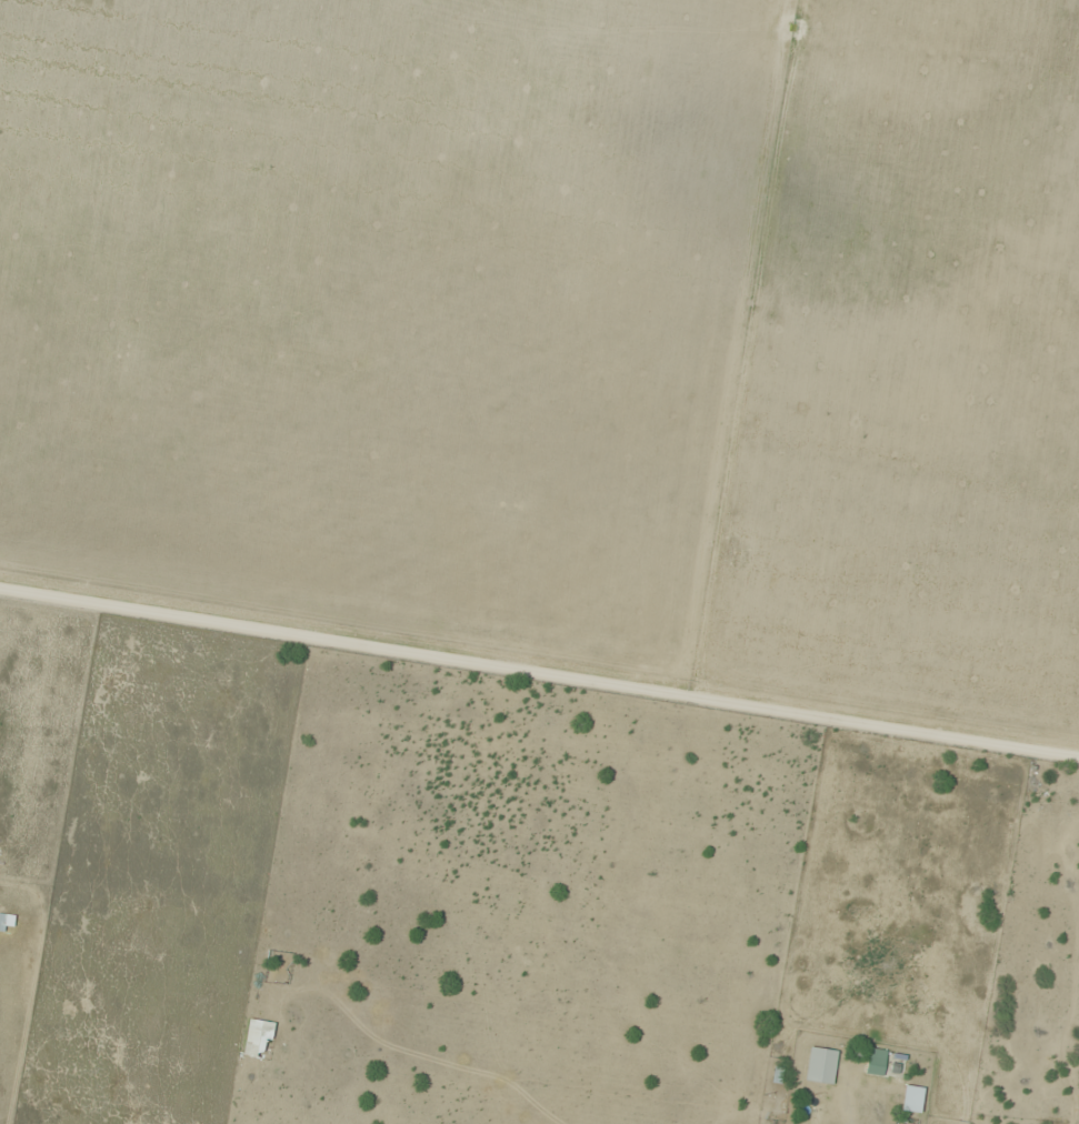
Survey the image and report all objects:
building: (259, 1038)
building: (876, 1062)
building: (821, 1065)

